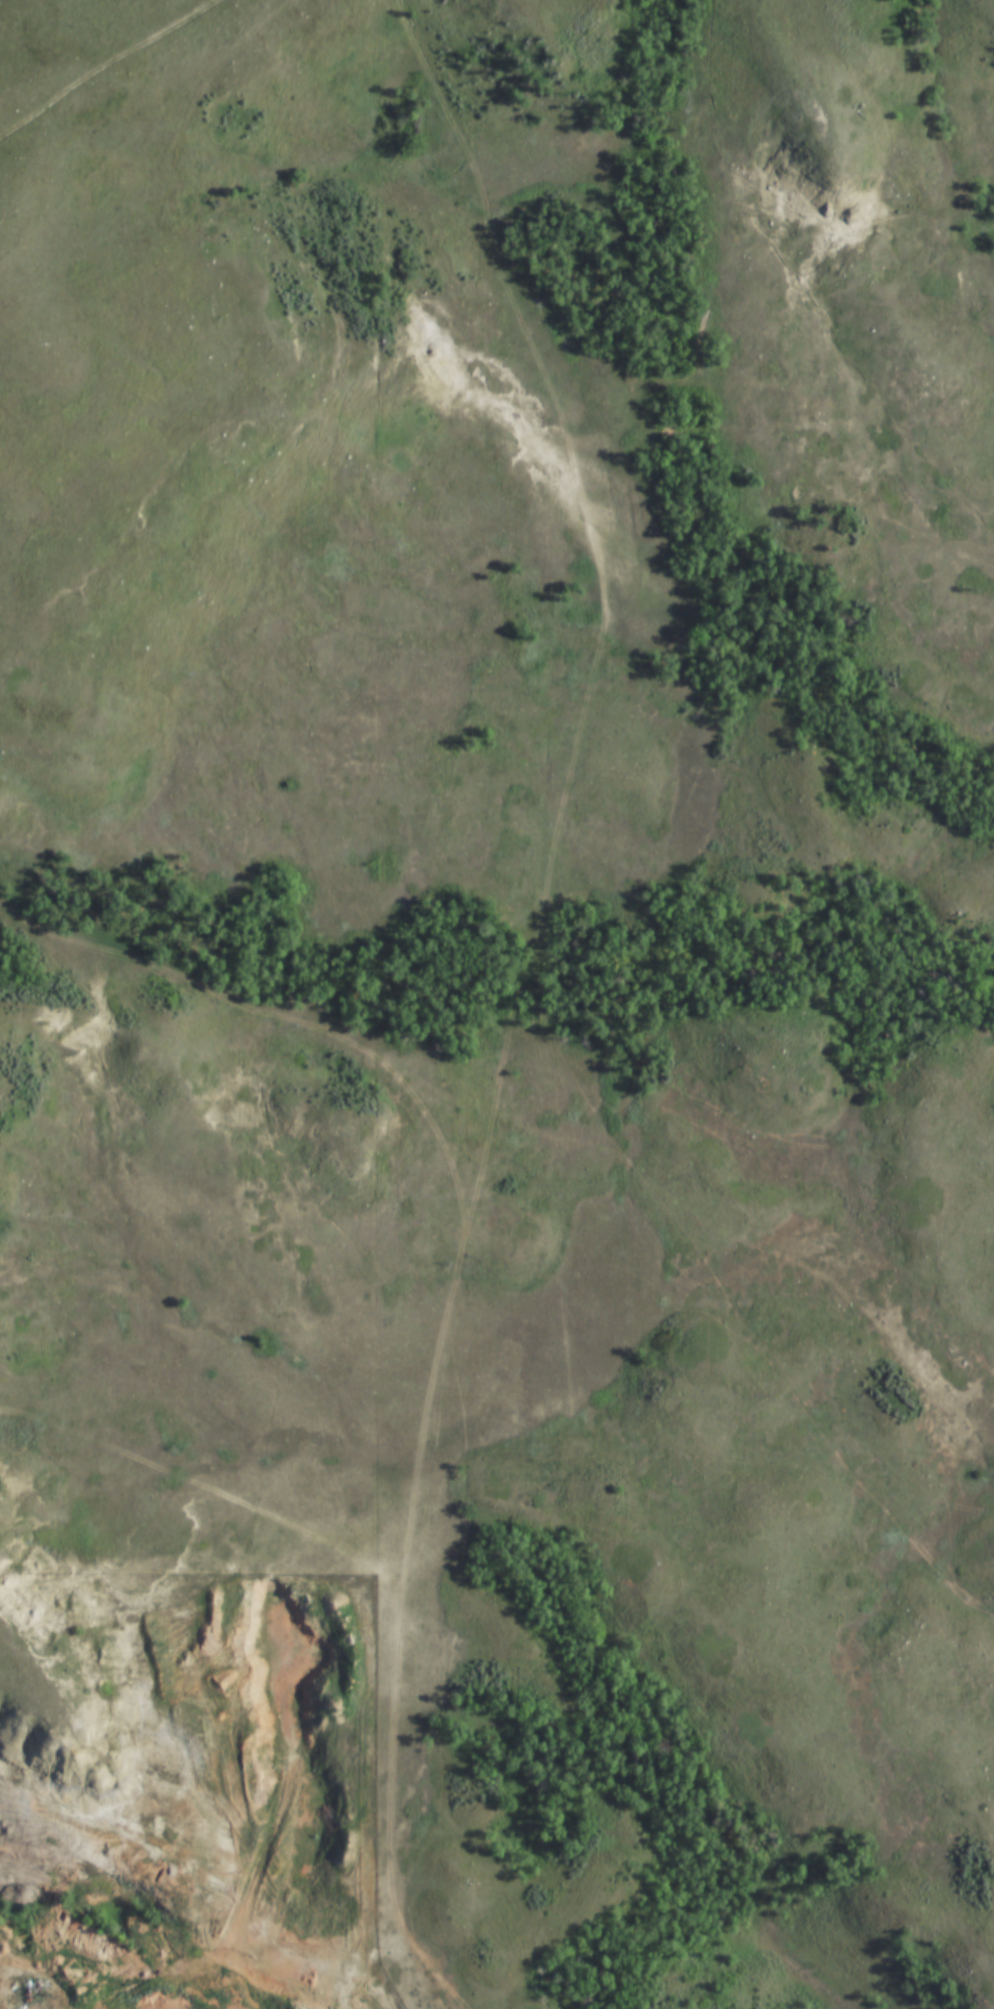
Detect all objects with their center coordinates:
road: (367, 1883)
quarry: (191, 1895)

